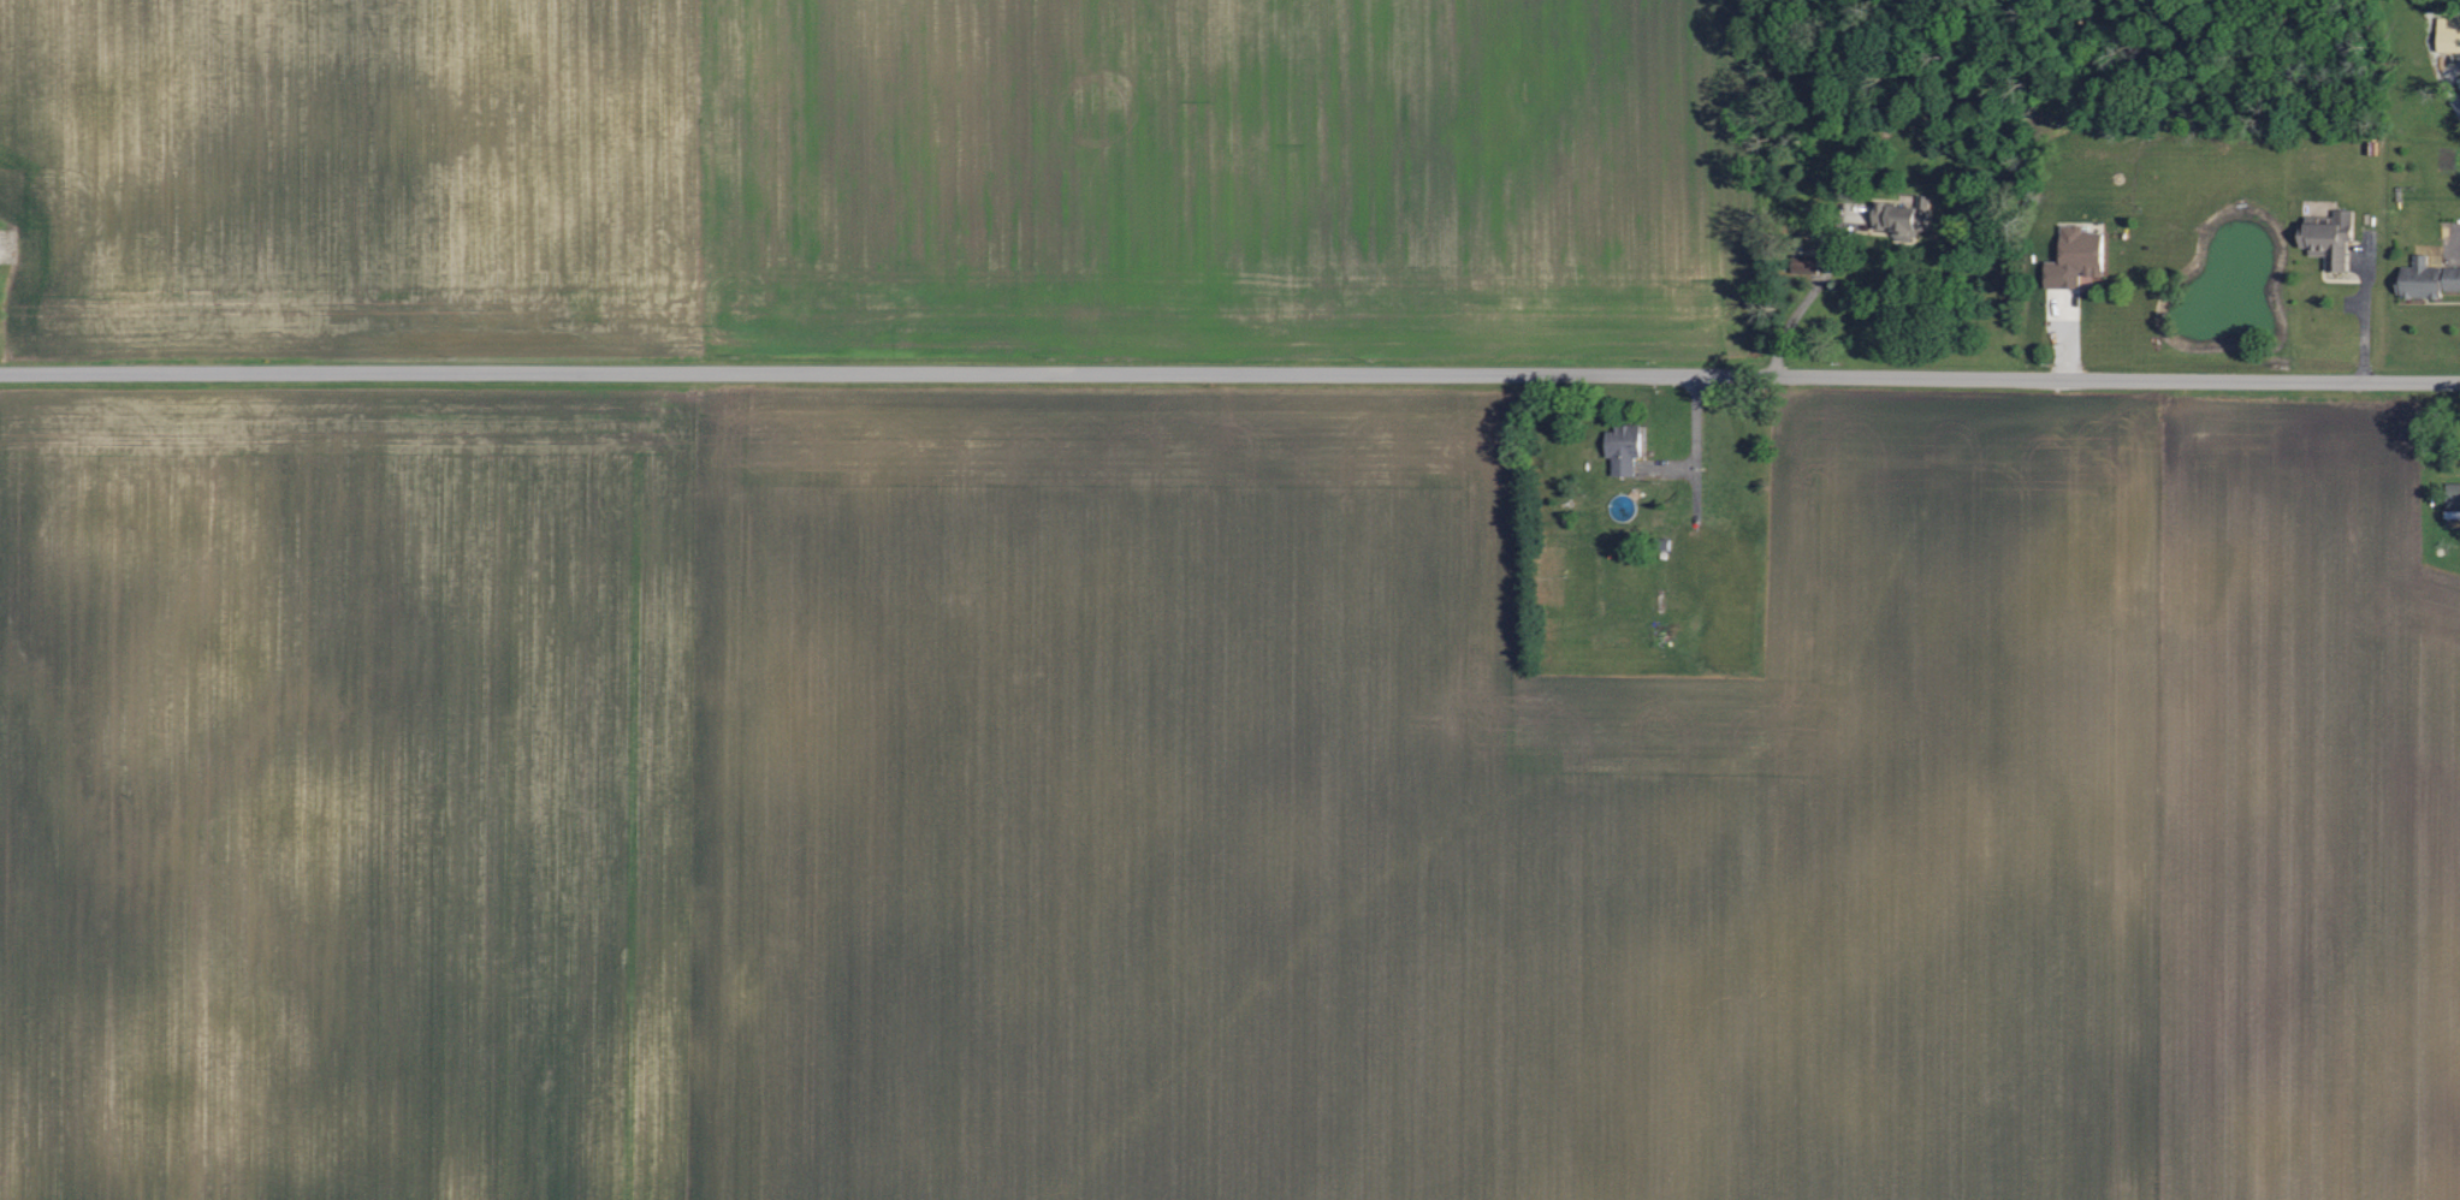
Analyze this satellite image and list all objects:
building: (2448, 34)
building: (1901, 218)
building: (2328, 240)
building: (0, 251)
building: (2073, 257)
building: (1802, 265)
building: (2425, 279)
road: (1229, 374)
building: (1620, 448)
building: (2452, 495)

